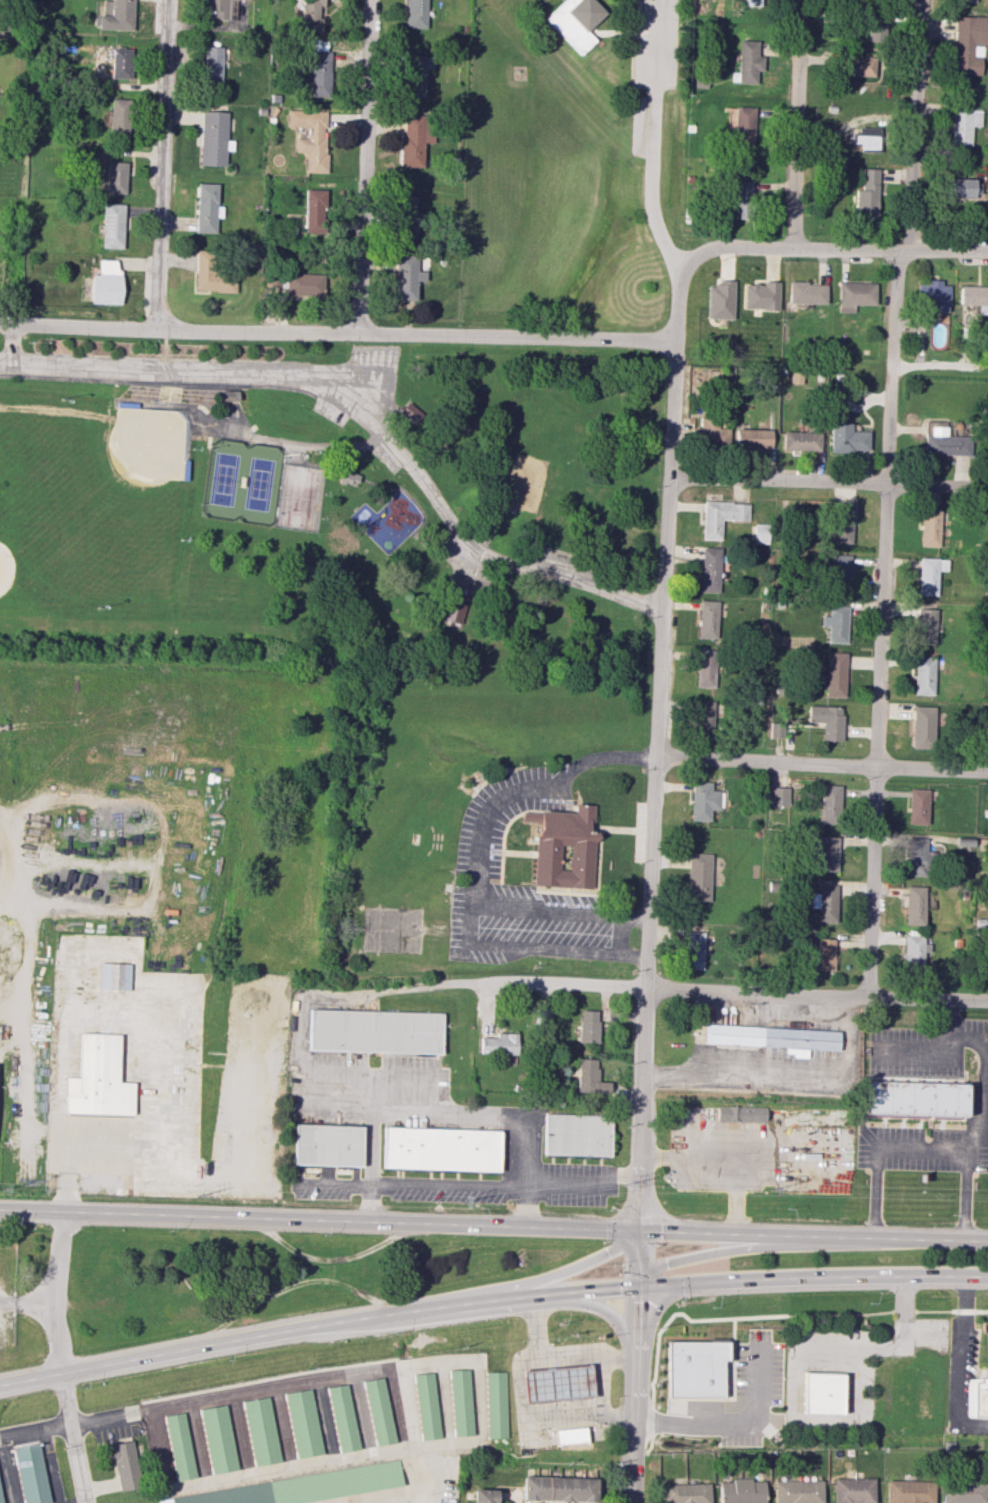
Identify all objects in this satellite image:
building: (965, 0)
building: (749, 2)
building: (217, 8)
building: (415, 13)
building: (310, 15)
building: (117, 16)
building: (575, 21)
road: (603, 28)
building: (877, 28)
road: (610, 32)
building: (968, 44)
building: (748, 61)
building: (121, 63)
building: (211, 64)
building: (857, 64)
building: (319, 73)
building: (416, 74)
road: (632, 77)
building: (119, 115)
road: (797, 124)
building: (963, 125)
building: (743, 126)
building: (309, 137)
building: (866, 137)
building: (213, 138)
building: (412, 140)
road: (653, 140)
road: (162, 165)
road: (361, 167)
building: (115, 177)
building: (963, 188)
building: (867, 194)
building: (740, 199)
building: (205, 207)
building: (406, 210)
building: (313, 211)
building: (112, 225)
road: (847, 248)
building: (211, 274)
building: (405, 276)
building: (105, 283)
building: (297, 284)
building: (806, 293)
building: (933, 294)
building: (855, 295)
building: (973, 295)
building: (760, 296)
building: (720, 300)
road: (336, 333)
road: (163, 344)
road: (7, 360)
road: (168, 371)
road: (370, 374)
parking lot: (267, 380)
road: (125, 382)
road: (155, 387)
road: (273, 388)
road: (213, 390)
road: (350, 410)
park: (396, 411)
building: (410, 412)
road: (423, 414)
road: (210, 420)
road: (238, 421)
road: (388, 423)
building: (710, 432)
building: (846, 436)
road: (263, 438)
building: (752, 438)
building: (801, 441)
building: (945, 443)
road: (187, 454)
parking lot: (386, 454)
road: (292, 464)
road: (319, 467)
building: (349, 477)
park: (242, 481)
road: (828, 481)
park: (526, 484)
road: (885, 494)
park: (94, 495)
park: (298, 497)
road: (419, 508)
building: (720, 516)
building: (842, 524)
building: (929, 527)
building: (760, 533)
road: (495, 554)
road: (477, 561)
parking lot: (570, 564)
building: (709, 569)
building: (839, 571)
building: (929, 575)
building: (454, 607)
building: (709, 617)
road: (443, 622)
building: (836, 623)
building: (925, 625)
building: (706, 668)
building: (835, 674)
building: (923, 675)
building: (704, 715)
building: (828, 720)
building: (923, 726)
building: (776, 729)
building: (986, 737)
road: (821, 764)
road: (528, 791)
building: (779, 796)
building: (703, 800)
building: (831, 804)
building: (918, 806)
building: (567, 850)
building: (827, 853)
building: (916, 856)
parking lot: (480, 864)
road: (11, 868)
road: (649, 869)
building: (698, 876)
building: (825, 903)
building: (914, 905)
road: (470, 923)
building: (692, 950)
building: (913, 950)
building: (823, 952)
building: (115, 976)
road: (729, 991)
road: (309, 1001)
building: (539, 1016)
building: (588, 1026)
building: (375, 1031)
building: (772, 1037)
building: (498, 1044)
road: (917, 1053)
road: (165, 1054)
road: (984, 1059)
building: (589, 1077)
building: (99, 1079)
building: (918, 1099)
road: (449, 1113)
building: (744, 1113)
building: (576, 1134)
building: (327, 1145)
building: (440, 1149)
road: (923, 1149)
road: (724, 1155)
road: (335, 1182)
road: (430, 1184)
power tower: (620, 1184)
road: (564, 1185)
power tower: (1, 1188)
power tower: (769, 1189)
power tower: (197, 1195)
power tower: (459, 1202)
road: (494, 1223)
road: (711, 1249)
road: (563, 1268)
road: (27, 1302)
road: (491, 1302)
road: (594, 1304)
road: (755, 1317)
road: (535, 1327)
road: (57, 1358)
road: (438, 1363)
road: (962, 1363)
road: (795, 1367)
building: (695, 1368)
building: (559, 1385)
gas station: (559, 1385)
road: (517, 1387)
road: (233, 1396)
building: (825, 1396)
building: (975, 1397)
building: (460, 1402)
building: (495, 1404)
building: (425, 1405)
building: (377, 1411)
road: (360, 1417)
building: (341, 1418)
road: (325, 1422)
building: (302, 1423)
road: (726, 1424)
road: (34, 1429)
road: (285, 1429)
building: (260, 1431)
building: (572, 1436)
gas station: (572, 1436)
road: (242, 1437)
building: (218, 1439)
road: (198, 1445)
road: (462, 1445)
building: (179, 1446)
road: (162, 1450)
road: (412, 1452)
building: (124, 1463)
road: (50, 1465)
road: (308, 1465)
road: (8, 1469)
building: (30, 1474)
building: (297, 1488)
road: (101, 1490)
building: (561, 1490)
building: (853, 1490)
building: (741, 1491)
building: (797, 1491)
building: (908, 1491)
building: (962, 1492)
building: (686, 1493)
building: (483, 1496)
building: (0, 1502)

